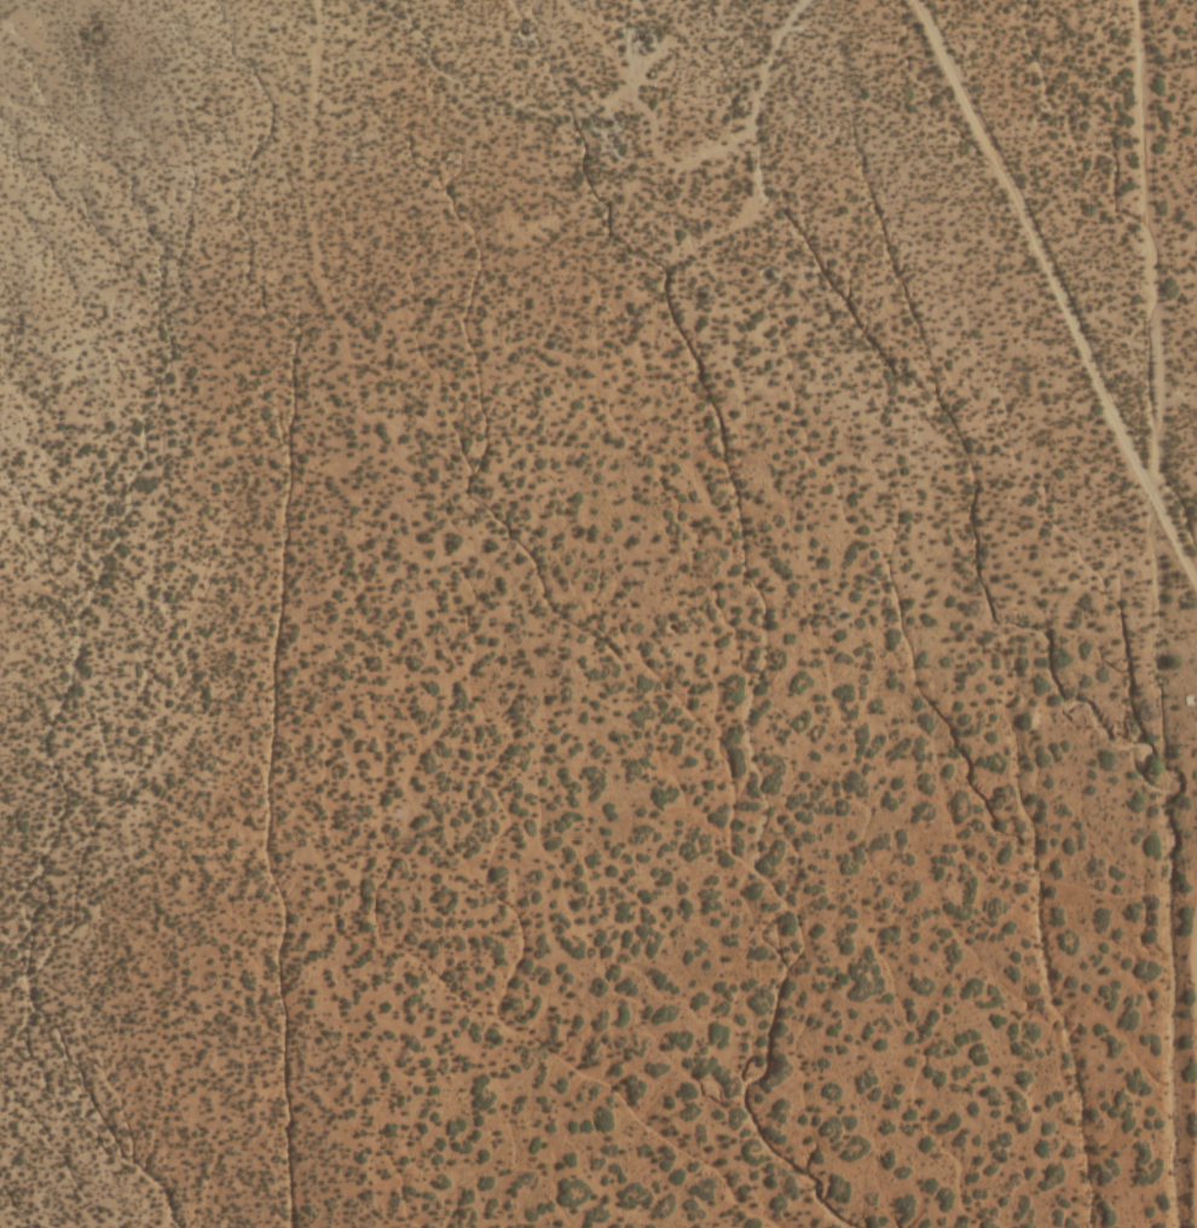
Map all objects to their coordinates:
road: (984, 186)
road: (282, 446)
road: (1151, 609)
road: (392, 952)

